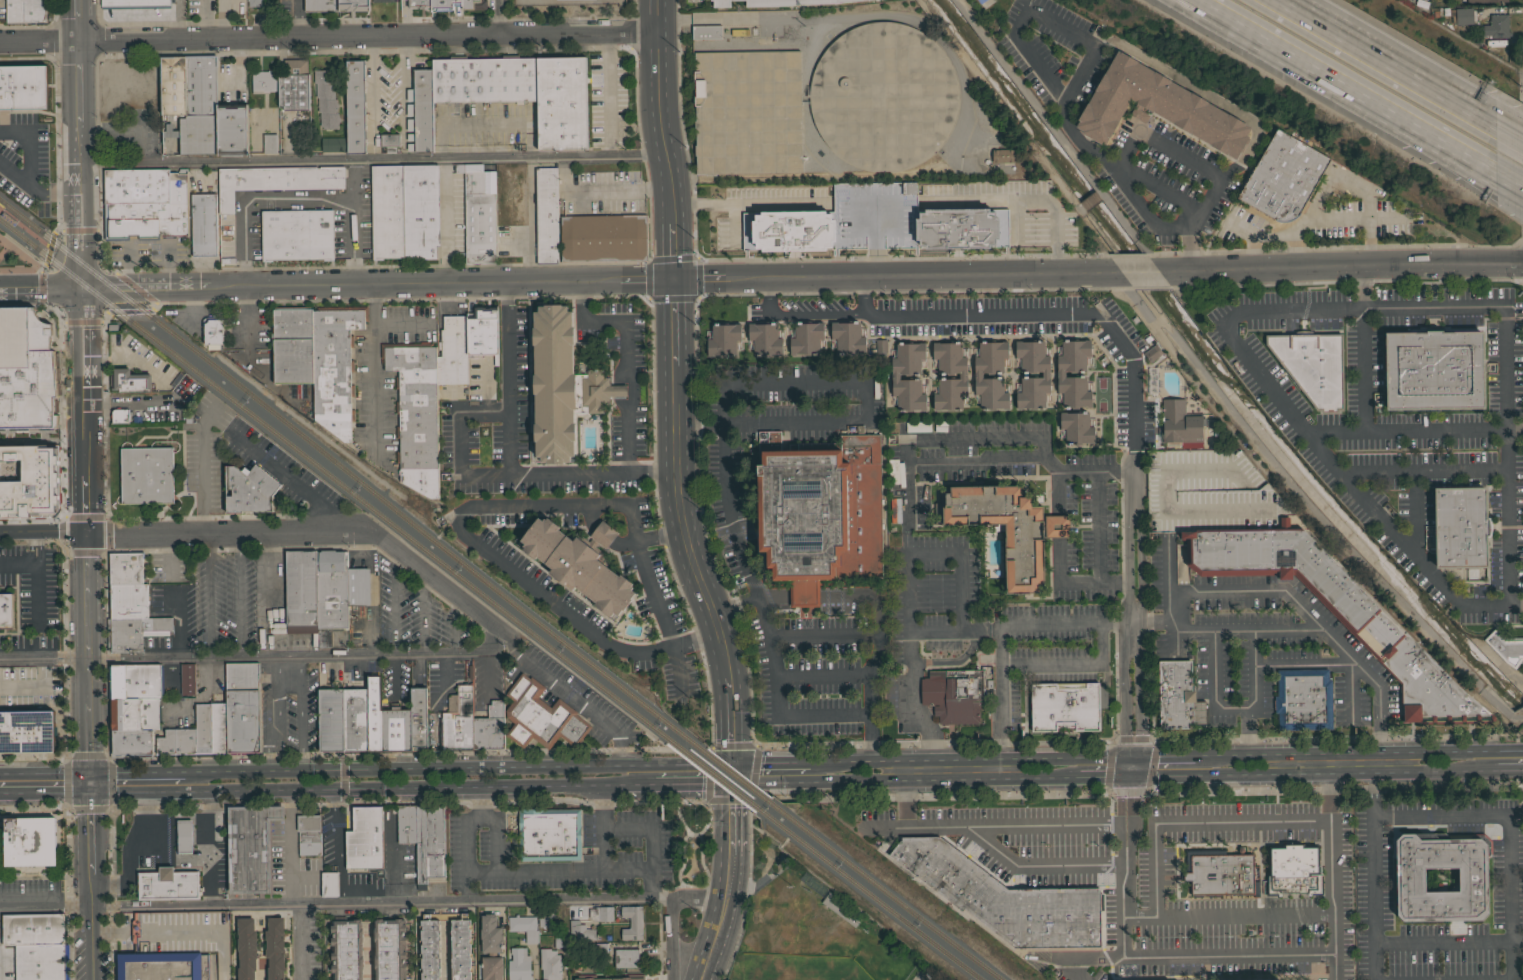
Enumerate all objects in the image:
building: (382, 1)
building: (1486, 1)
building: (789, 2)
park: (979, 2)
building: (254, 3)
power substation: (566, 3)
building: (721, 3)
building: (134, 4)
building: (418, 4)
building: (443, 4)
building: (473, 4)
building: (320, 5)
building: (353, 5)
building: (25, 11)
building: (1462, 15)
road: (500, 16)
road: (296, 18)
road: (76, 19)
building: (1495, 28)
building: (706, 32)
road: (327, 35)
road: (1388, 60)
road: (239, 66)
road: (1320, 72)
building: (263, 81)
road: (1074, 81)
building: (293, 85)
building: (23, 87)
building: (688, 90)
building: (521, 91)
road: (608, 92)
building: (883, 96)
storage tank: (883, 96)
building: (325, 99)
building: (191, 101)
road: (680, 101)
building: (355, 106)
building: (1156, 106)
building: (420, 112)
building: (747, 112)
road: (1014, 124)
road: (1508, 128)
building: (232, 131)
building: (388, 142)
building: (269, 143)
building: (333, 144)
road: (31, 145)
road: (56, 146)
building: (1003, 155)
road: (1470, 157)
road: (371, 158)
road: (79, 163)
building: (459, 168)
road: (1206, 169)
road: (1469, 169)
building: (1282, 177)
road: (1508, 179)
building: (274, 181)
road: (1158, 187)
road: (35, 188)
road: (617, 192)
road: (1099, 192)
road: (299, 197)
road: (1089, 199)
road: (698, 202)
building: (144, 203)
road: (777, 203)
road: (1508, 205)
parking lot: (765, 206)
road: (1079, 206)
railway: (3, 207)
building: (421, 210)
building: (387, 211)
building: (544, 213)
building: (478, 217)
road: (1386, 217)
building: (8, 218)
road: (446, 218)
road: (1318, 219)
building: (875, 223)
building: (203, 224)
road: (732, 225)
road: (25, 228)
road: (78, 229)
building: (296, 234)
building: (601, 235)
road: (1253, 246)
road: (48, 247)
road: (1290, 250)
railway: (70, 255)
road: (970, 257)
traffic signals: (672, 258)
road: (696, 258)
road: (374, 264)
road: (1340, 264)
road: (42, 267)
road: (1139, 270)
traffic signals: (672, 277)
traffic signals: (697, 277)
road: (601, 278)
traffic signals: (648, 278)
road: (1362, 285)
road: (40, 286)
road: (135, 287)
road: (1107, 287)
road: (40, 288)
traffic signals: (82, 288)
road: (863, 292)
road: (767, 294)
traffic signals: (672, 296)
road: (398, 298)
road: (1140, 306)
road: (129, 310)
road: (816, 313)
road: (1009, 314)
road: (81, 320)
road: (605, 320)
building: (482, 331)
building: (213, 333)
building: (806, 337)
building: (847, 337)
building: (765, 338)
building: (723, 339)
building: (292, 345)
building: (881, 347)
road: (508, 349)
building: (452, 351)
building: (1151, 354)
road: (374, 364)
building: (1311, 366)
building: (334, 367)
building: (26, 369)
road: (1362, 369)
building: (1433, 370)
road: (621, 374)
building: (1045, 374)
building: (1060, 374)
building: (978, 375)
building: (895, 376)
building: (962, 376)
building: (128, 380)
road: (862, 382)
road: (60, 383)
road: (674, 384)
building: (561, 385)
road: (634, 388)
road: (620, 390)
road: (1277, 393)
road: (621, 403)
road: (83, 408)
road: (103, 413)
building: (415, 413)
building: (119, 415)
building: (1180, 426)
road: (698, 427)
building: (1076, 427)
road: (1133, 428)
road: (1514, 430)
road: (1409, 432)
road: (929, 440)
road: (627, 442)
road: (198, 466)
road: (1421, 472)
road: (651, 473)
road: (39, 474)
building: (146, 475)
road: (462, 475)
railway: (330, 477)
building: (17, 482)
building: (249, 490)
road: (1057, 492)
road: (588, 505)
building: (895, 510)
building: (820, 511)
road: (729, 513)
railway: (408, 519)
road: (1308, 521)
road: (1098, 522)
road: (105, 524)
road: (659, 525)
road: (705, 525)
building: (1009, 525)
road: (1057, 525)
traffic signals: (85, 530)
building: (1450, 530)
road: (183, 534)
road: (660, 535)
road: (932, 554)
road: (18, 562)
road: (501, 563)
building: (579, 563)
building: (1287, 564)
road: (36, 576)
road: (1060, 577)
building: (127, 585)
road: (439, 586)
building: (357, 589)
building: (301, 591)
road: (1268, 592)
building: (331, 594)
road: (209, 595)
road: (239, 595)
road: (770, 595)
road: (734, 603)
road: (1515, 606)
building: (6, 610)
parking lot: (414, 614)
road: (663, 618)
road: (1051, 624)
road: (1125, 627)
road: (1140, 627)
road: (1267, 629)
building: (134, 632)
road: (958, 633)
road: (821, 635)
road: (696, 642)
road: (1214, 644)
road: (1253, 647)
building: (1505, 647)
road: (87, 650)
road: (255, 656)
parking lot: (823, 661)
road: (1340, 663)
road: (1091, 664)
road: (288, 665)
road: (821, 676)
building: (187, 678)
building: (135, 680)
parking lot: (440, 685)
road: (34, 686)
building: (953, 694)
building: (1175, 694)
road: (277, 696)
building: (1303, 699)
road: (573, 700)
road: (999, 701)
building: (242, 707)
building: (1063, 707)
road: (918, 708)
road: (301, 710)
building: (133, 712)
building: (373, 713)
building: (540, 716)
building: (418, 718)
building: (330, 719)
building: (355, 720)
building: (458, 720)
building: (218, 727)
building: (202, 728)
building: (489, 728)
building: (395, 729)
building: (434, 729)
road: (272, 730)
road: (1247, 730)
building: (26, 731)
road: (869, 737)
road: (67, 739)
road: (105, 739)
building: (176, 740)
building: (131, 742)
road: (266, 744)
road: (830, 746)
road: (1496, 749)
road: (411, 752)
road: (1332, 752)
road: (1132, 755)
road: (1167, 755)
road: (34, 756)
road: (1061, 756)
road: (902, 758)
road: (267, 762)
road: (303, 762)
road: (769, 762)
road: (675, 763)
road: (1122, 765)
road: (1140, 765)
railway: (722, 766)
road: (401, 767)
road: (1508, 768)
road: (137, 771)
road: (730, 771)
road: (1371, 771)
road: (45, 772)
railway: (710, 773)
road: (1219, 773)
road: (1165, 775)
road: (1098, 776)
road: (1130, 776)
traffic signals: (1140, 776)
road: (344, 777)
road: (940, 777)
road: (90, 781)
traffic signals: (730, 781)
road: (767, 781)
road: (692, 782)
road: (637, 783)
road: (400, 786)
road: (120, 790)
road: (166, 790)
road: (45, 791)
traffic signals: (90, 791)
road: (1372, 792)
road: (334, 795)
road: (903, 799)
road: (1136, 801)
road: (432, 802)
road: (34, 805)
road: (107, 805)
road: (1119, 816)
road: (1197, 823)
building: (406, 824)
road: (1041, 826)
road: (91, 831)
building: (308, 834)
building: (548, 834)
road: (335, 835)
building: (183, 836)
building: (175, 837)
road: (496, 837)
building: (29, 841)
road: (1129, 841)
building: (365, 843)
building: (429, 843)
road: (206, 847)
building: (250, 847)
road: (129, 849)
road: (1511, 849)
road: (995, 850)
road: (1333, 866)
road: (339, 869)
building: (1293, 870)
building: (1219, 872)
road: (583, 874)
building: (1409, 879)
road: (343, 882)
road: (727, 882)
building: (167, 884)
building: (329, 884)
road: (654, 886)
road: (467, 890)
railway: (887, 891)
road: (69, 892)
road: (113, 892)
road: (373, 892)
railway: (869, 895)
road: (404, 897)
road: (1373, 897)
building: (1003, 898)
road: (335, 904)
road: (1120, 907)
building: (840, 909)
road: (671, 912)
building: (600, 913)
road: (1227, 916)
building: (545, 917)
building: (632, 922)
road: (91, 926)
building: (524, 927)
building: (32, 929)
park: (814, 930)
building: (581, 931)
road: (1518, 933)
building: (560, 937)
road: (301, 942)
road: (1444, 943)
building: (173, 945)
building: (274, 948)
building: (460, 948)
building: (491, 948)
building: (246, 949)
building: (389, 949)
building: (346, 950)
building: (600, 951)
building: (626, 958)
road: (1180, 958)
building: (41, 962)
building: (236, 963)
building: (519, 964)
building: (550, 964)
park: (918, 976)
building: (625, 978)
building: (605, 979)

